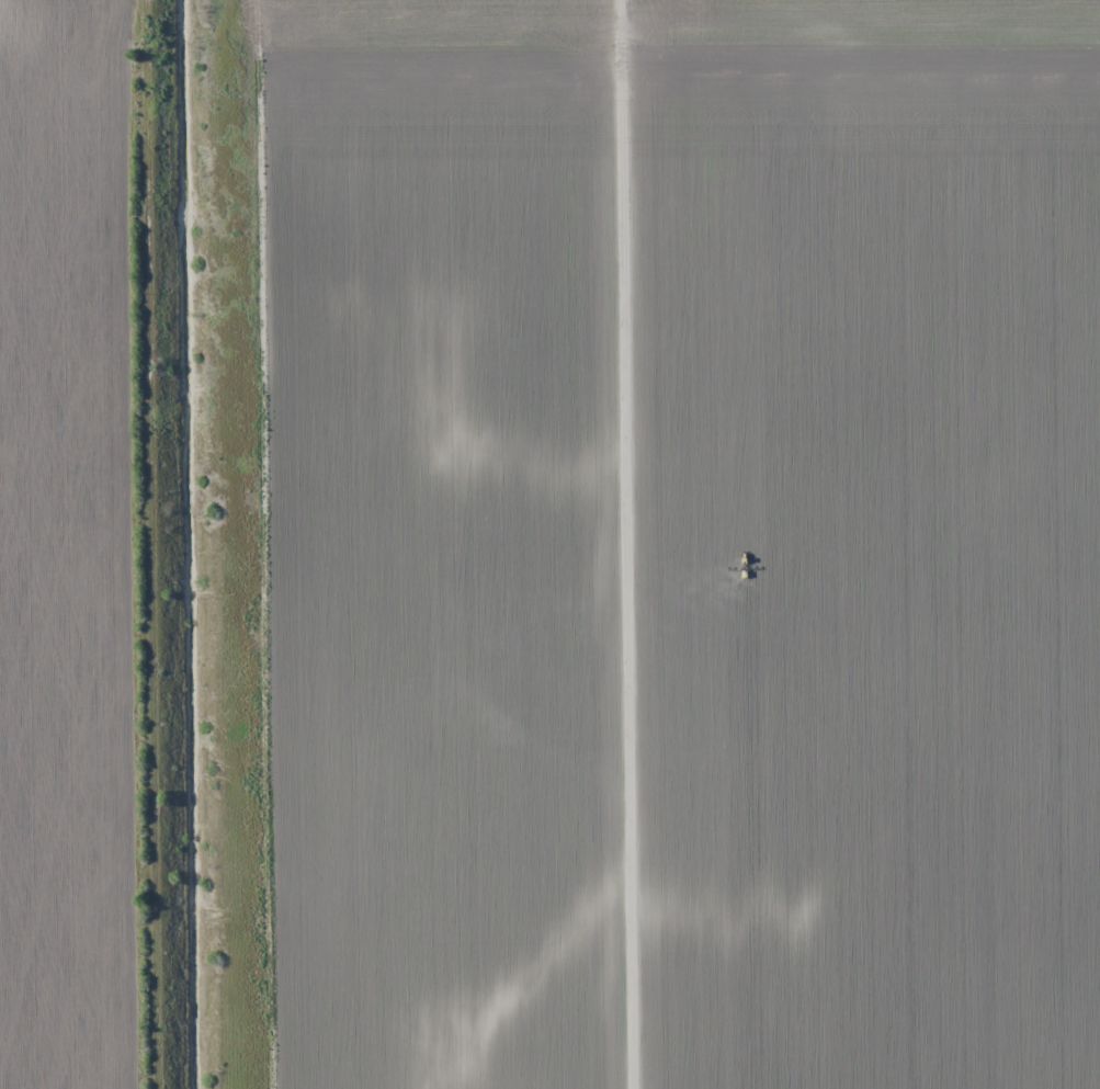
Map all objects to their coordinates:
road: (854, 15)
road: (613, 544)

